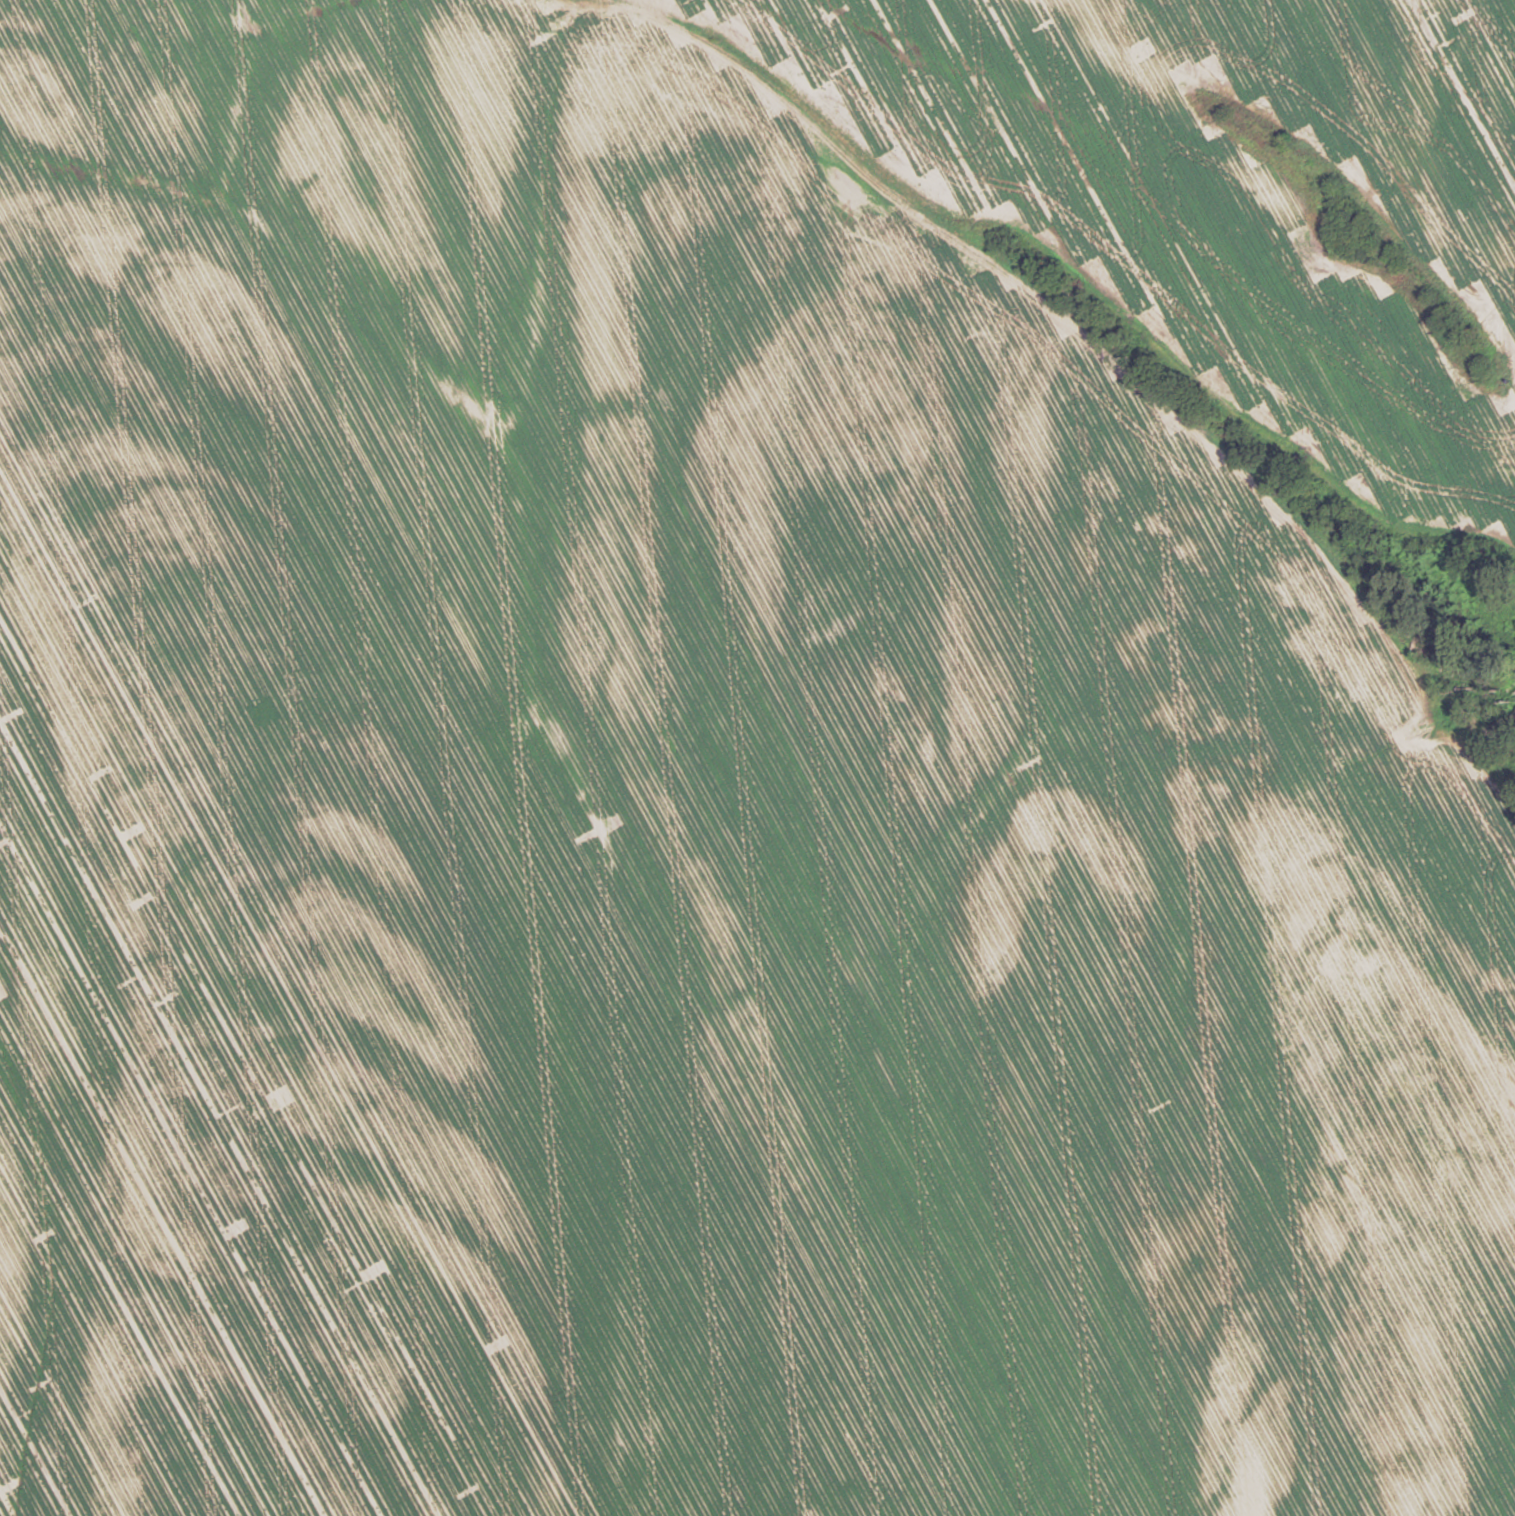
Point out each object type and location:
road: (284, 6)
road: (934, 230)

